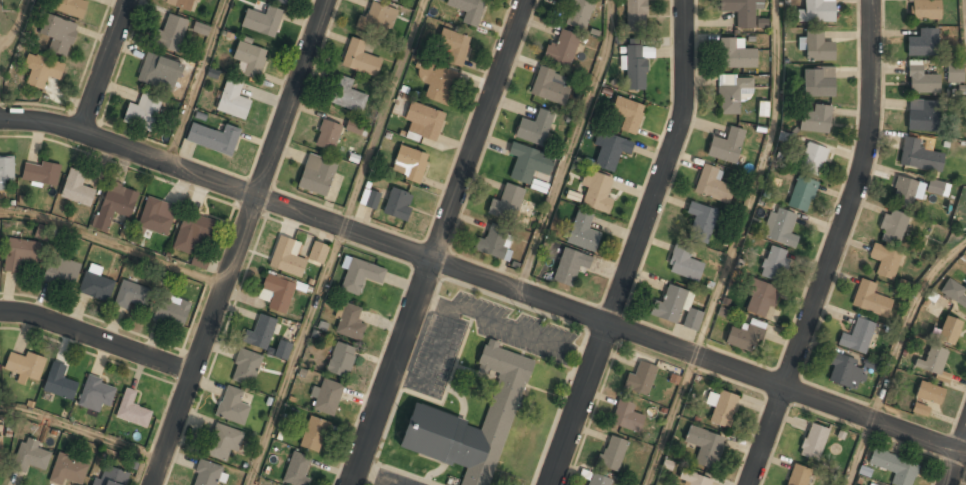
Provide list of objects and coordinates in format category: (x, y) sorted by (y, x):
building: (395, 0)
building: (282, 1)
building: (184, 4)
building: (71, 7)
building: (923, 9)
building: (467, 10)
building: (741, 11)
building: (816, 11)
road: (965, 11)
building: (578, 13)
building: (635, 13)
building: (378, 18)
building: (262, 20)
road: (17, 24)
building: (201, 28)
building: (170, 33)
building: (58, 34)
building: (922, 43)
building: (453, 46)
building: (816, 46)
building: (561, 49)
building: (734, 54)
building: (361, 57)
building: (250, 58)
building: (636, 65)
road: (105, 67)
building: (42, 70)
building: (954, 71)
building: (159, 72)
building: (435, 81)
building: (921, 81)
road: (195, 82)
building: (818, 82)
building: (550, 85)
building: (732, 93)
building: (346, 94)
building: (232, 99)
building: (762, 108)
building: (143, 112)
building: (627, 113)
road: (384, 114)
building: (921, 115)
building: (815, 119)
building: (423, 121)
building: (353, 126)
building: (534, 127)
building: (327, 135)
building: (213, 138)
road: (568, 146)
building: (726, 146)
building: (609, 150)
building: (919, 156)
building: (812, 159)
building: (528, 162)
building: (409, 163)
building: (5, 169)
building: (40, 172)
building: (316, 174)
road: (755, 181)
building: (712, 184)
building: (937, 187)
building: (77, 189)
building: (597, 192)
building: (903, 192)
building: (802, 194)
building: (369, 198)
building: (506, 203)
building: (398, 204)
building: (114, 206)
building: (156, 217)
building: (700, 221)
building: (779, 227)
building: (892, 227)
building: (582, 231)
building: (191, 232)
road: (240, 242)
road: (440, 242)
road: (113, 243)
building: (492, 243)
road: (636, 245)
road: (832, 246)
building: (317, 252)
building: (20, 253)
building: (287, 257)
building: (199, 260)
building: (885, 261)
building: (774, 263)
building: (683, 264)
building: (569, 266)
building: (61, 270)
building: (360, 275)
road: (484, 279)
building: (96, 286)
building: (276, 293)
building: (955, 293)
building: (131, 295)
building: (759, 297)
building: (870, 299)
building: (668, 305)
building: (171, 310)
building: (692, 319)
building: (349, 322)
road: (905, 322)
building: (948, 330)
building: (260, 333)
building: (745, 336)
building: (857, 337)
road: (97, 339)
building: (282, 349)
road: (296, 356)
building: (340, 359)
building: (931, 361)
building: (25, 365)
building: (246, 368)
building: (844, 372)
building: (640, 379)
building: (59, 382)
building: (96, 393)
building: (325, 397)
building: (926, 398)
building: (232, 406)
building: (721, 408)
building: (132, 410)
building: (627, 416)
road: (671, 420)
building: (470, 423)
road: (81, 430)
building: (313, 434)
building: (223, 442)
building: (812, 442)
building: (704, 446)
building: (0, 449)
road: (859, 452)
building: (611, 453)
building: (30, 456)
road: (956, 459)
building: (894, 467)
building: (297, 469)
building: (68, 470)
building: (206, 473)
building: (798, 475)
building: (111, 477)
building: (692, 479)
building: (596, 480)
building: (870, 484)

